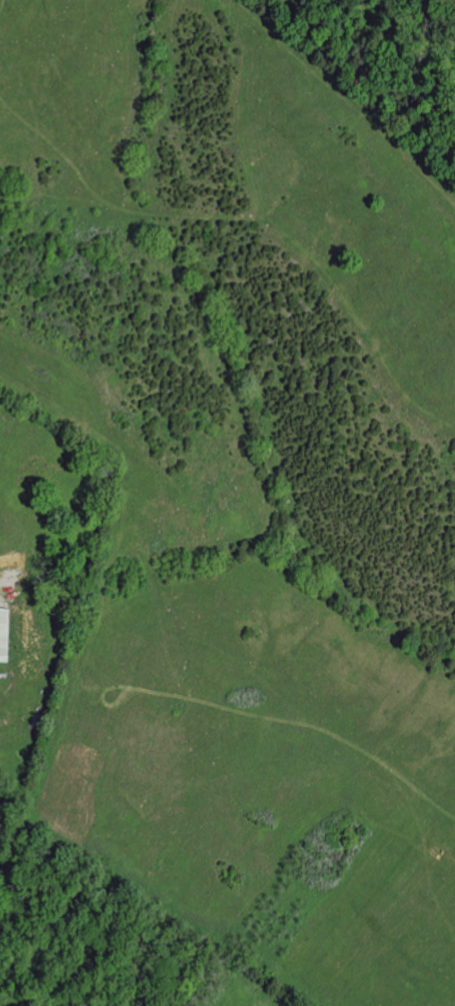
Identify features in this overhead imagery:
building: (7, 635)

